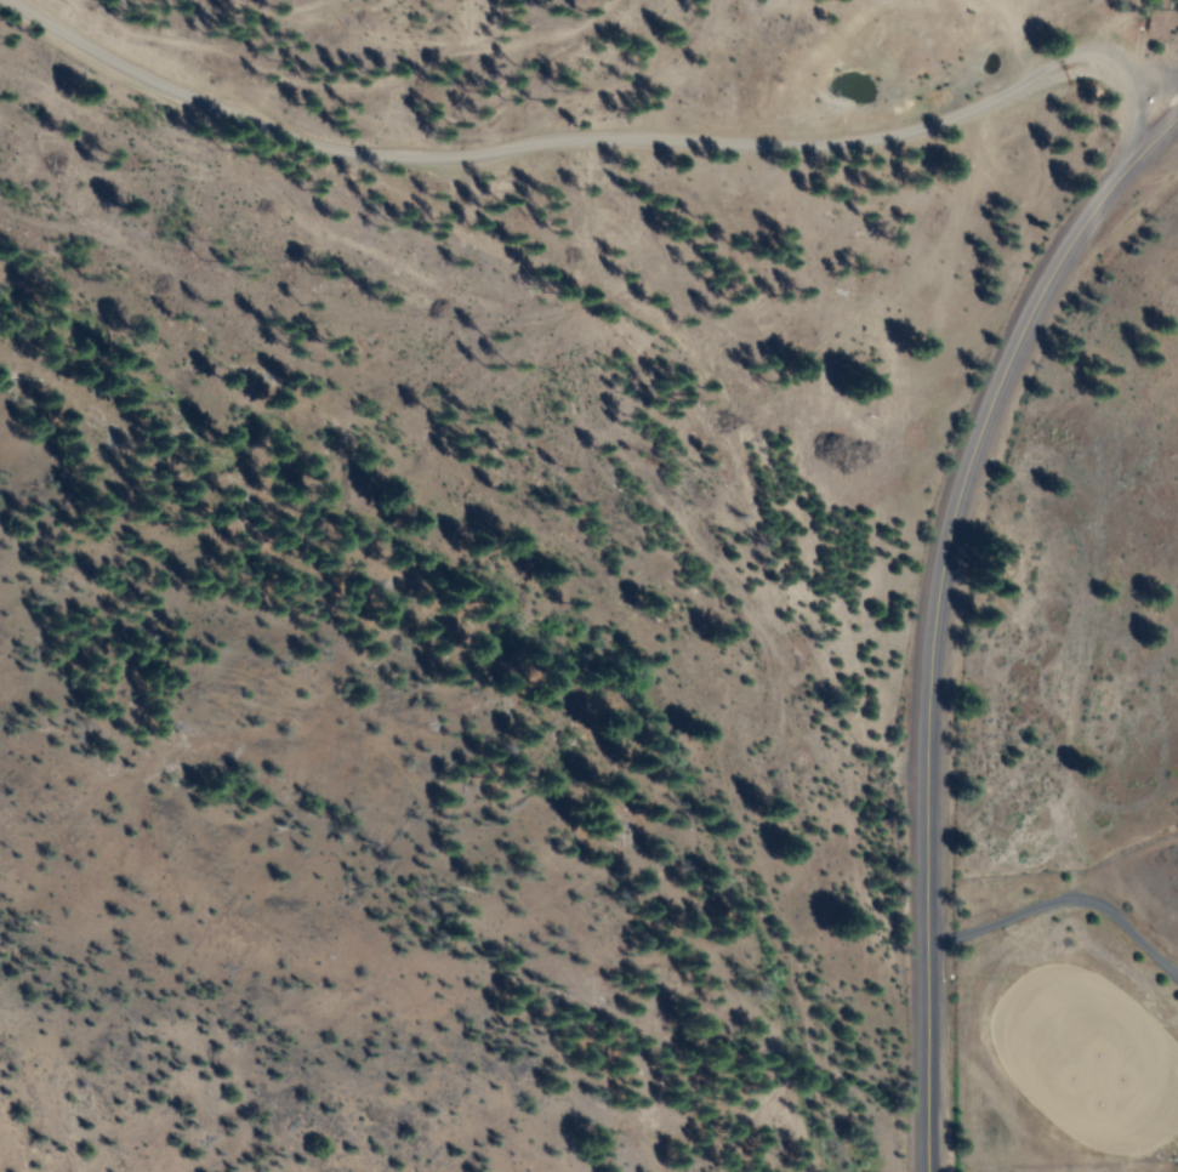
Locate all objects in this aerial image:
road: (594, 154)
road: (931, 603)
crop: (1031, 699)

